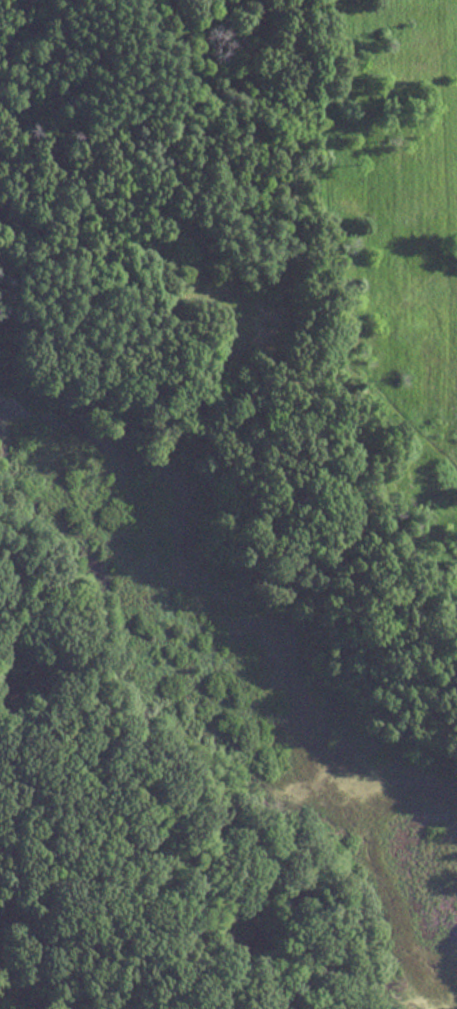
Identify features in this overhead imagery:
park: (228, 504)

